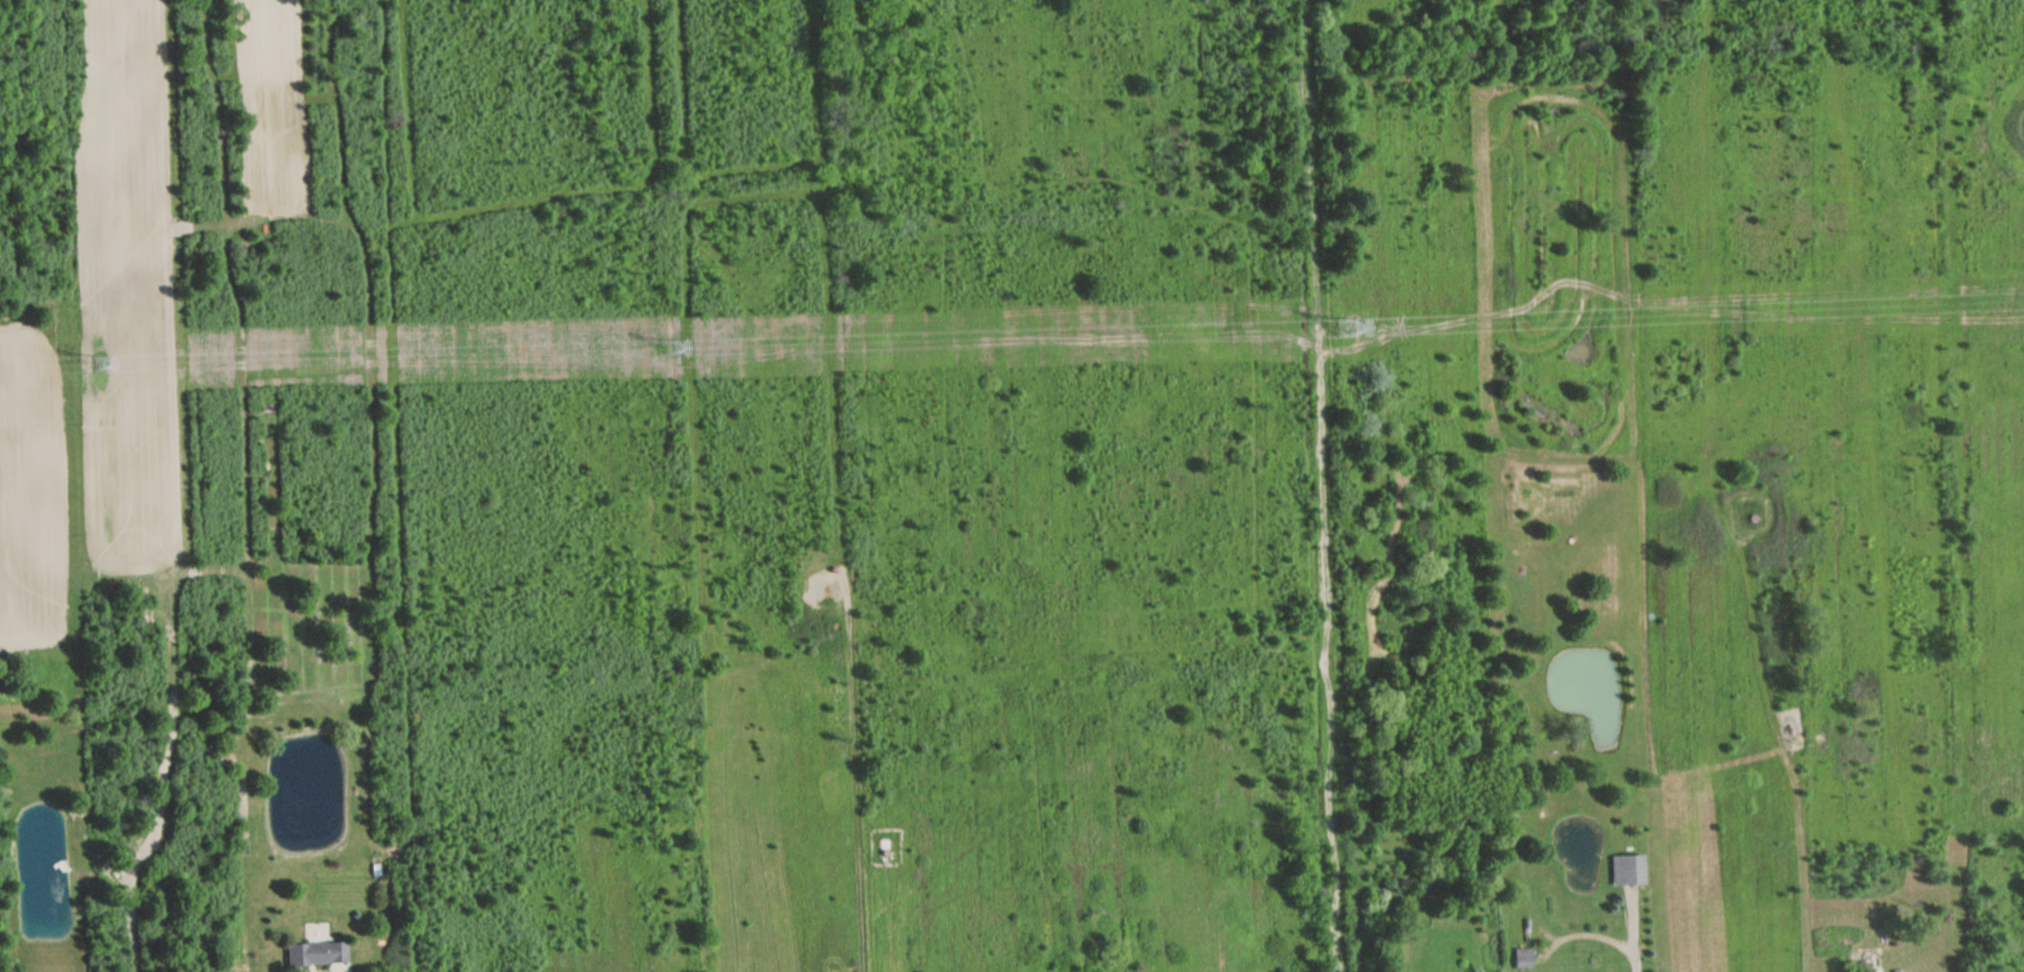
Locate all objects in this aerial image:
crop: (127, 285)
power tower: (1346, 332)
power tower: (671, 349)
power tower: (99, 364)
road: (1326, 486)
crop: (29, 493)
road: (875, 815)
building: (1626, 870)
building: (316, 953)
building: (1522, 958)

